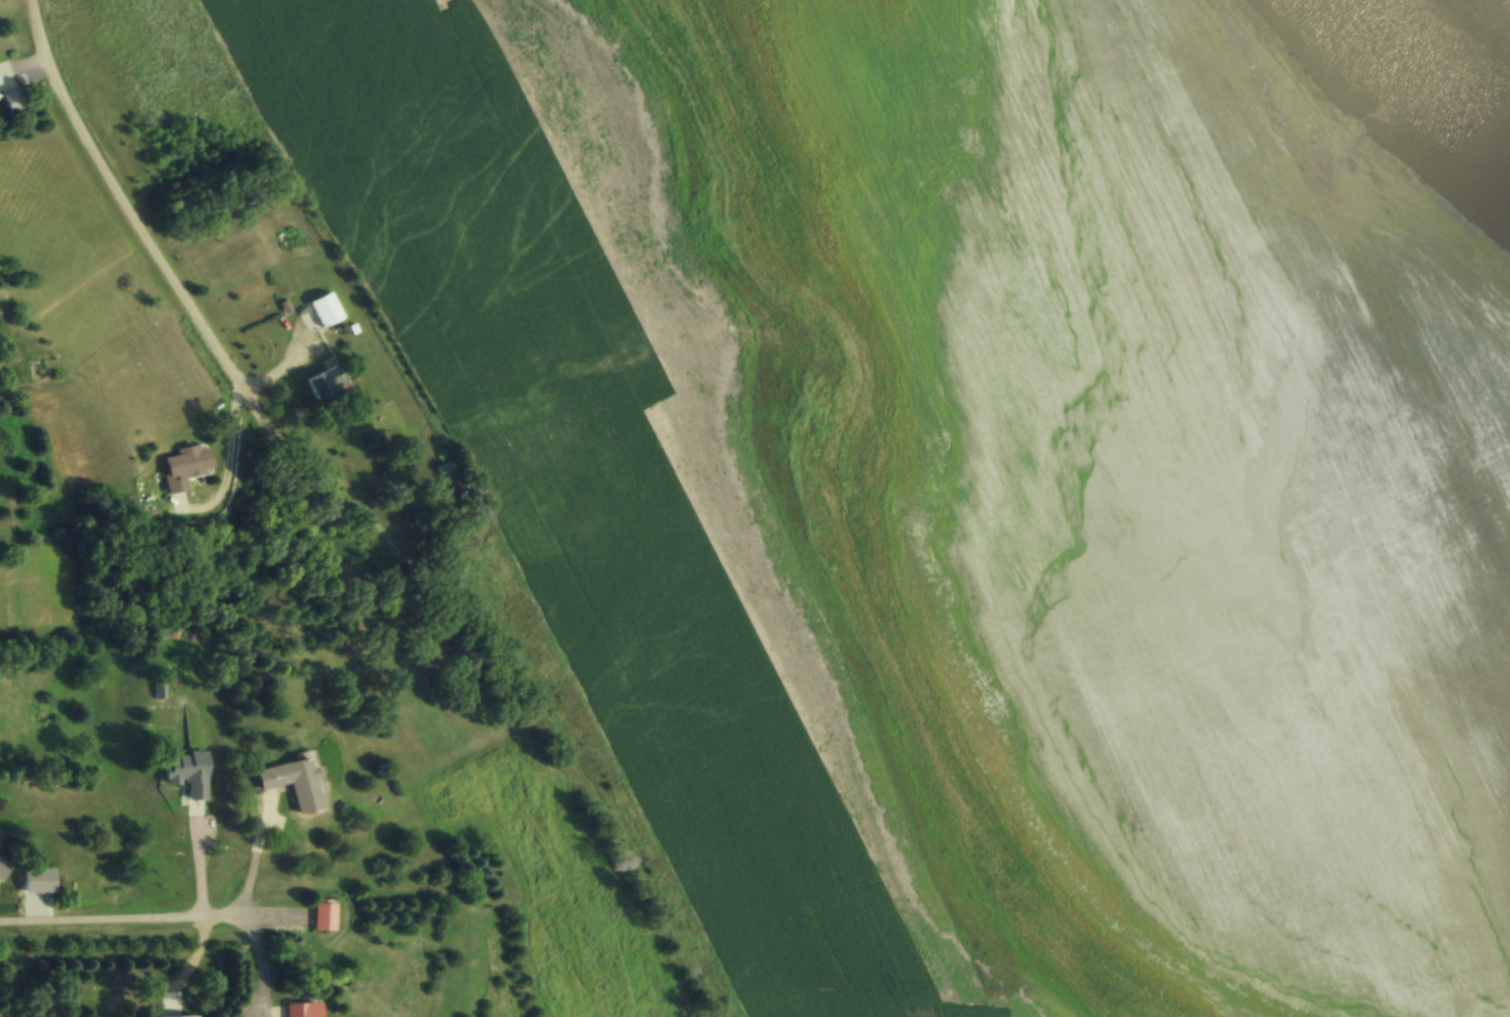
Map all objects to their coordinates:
river: (1437, 67)
building: (13, 100)
road: (159, 261)
building: (324, 309)
building: (326, 381)
building: (184, 465)
building: (445, 467)
crop: (963, 479)
building: (185, 771)
building: (291, 781)
road: (255, 856)
building: (2, 867)
building: (37, 879)
building: (322, 916)
road: (140, 917)
building: (297, 1010)
building: (173, 1016)

